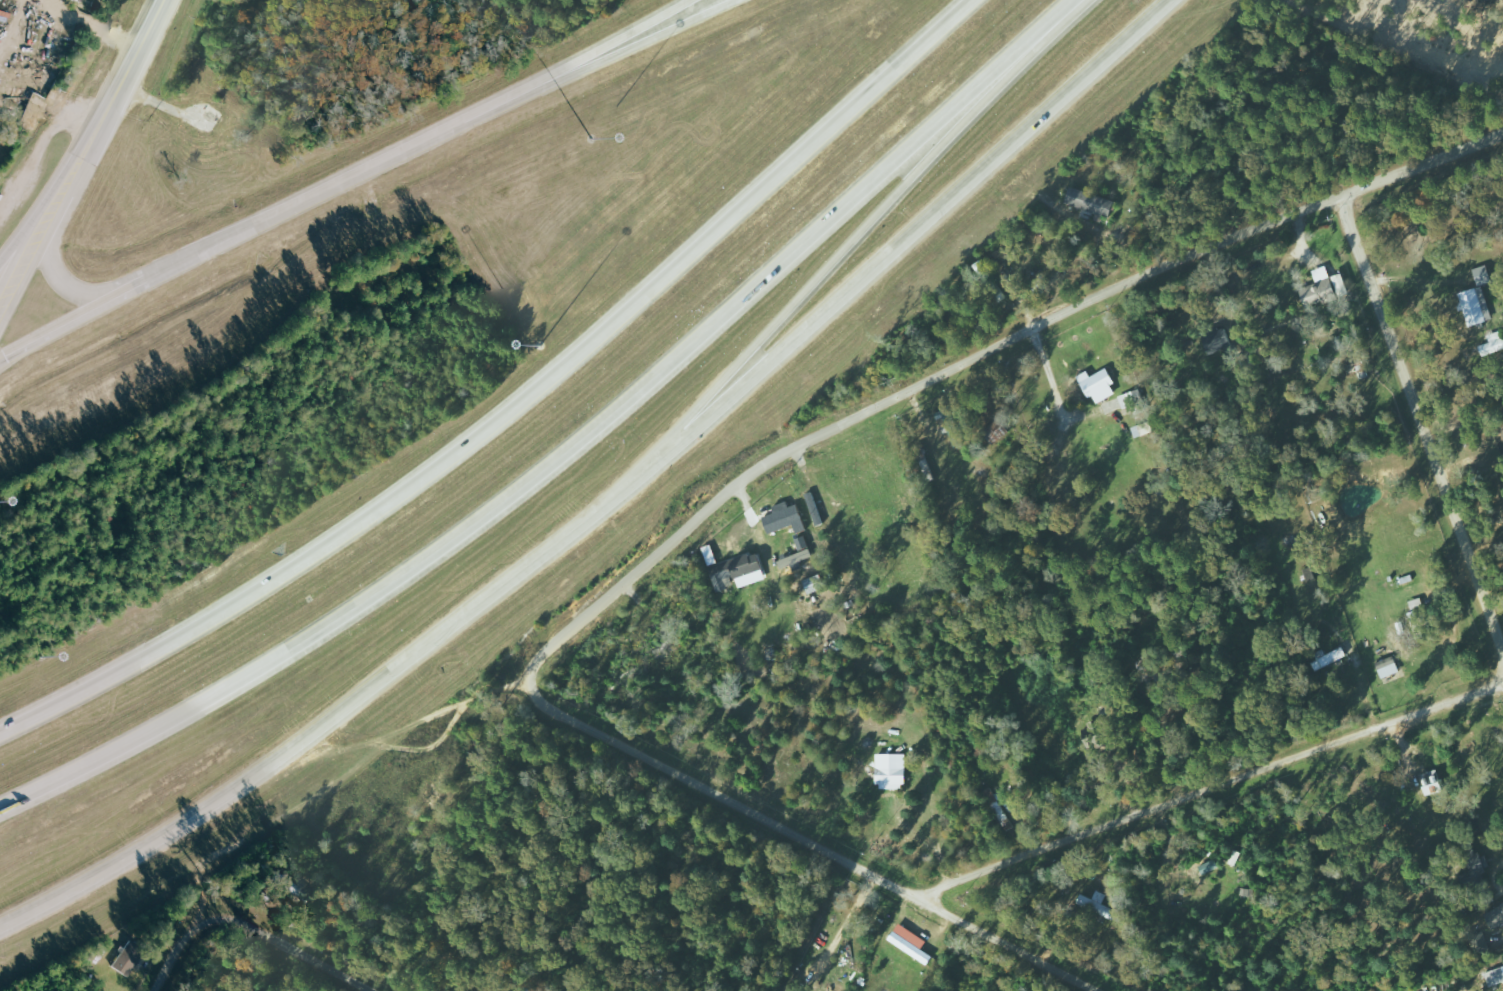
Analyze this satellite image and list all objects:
road: (1060, 12)
road: (108, 101)
road: (1421, 165)
road: (353, 177)
building: (1091, 202)
road: (47, 219)
road: (27, 236)
road: (836, 263)
road: (19, 271)
building: (1483, 275)
road: (64, 285)
building: (1476, 306)
building: (1218, 338)
building: (1493, 343)
building: (1098, 385)
road: (898, 396)
building: (1133, 401)
road: (512, 405)
building: (953, 427)
road: (1421, 429)
building: (997, 431)
road: (554, 458)
road: (613, 498)
building: (786, 519)
building: (799, 558)
building: (738, 572)
building: (1418, 625)
building: (1330, 658)
building: (1388, 667)
road: (424, 718)
road: (441, 727)
building: (893, 776)
building: (1432, 782)
road: (1212, 787)
building: (990, 795)
road: (809, 841)
building: (1209, 866)
building: (1100, 905)
building: (1496, 918)
road: (253, 925)
building: (911, 943)
building: (127, 957)
building: (1495, 977)

